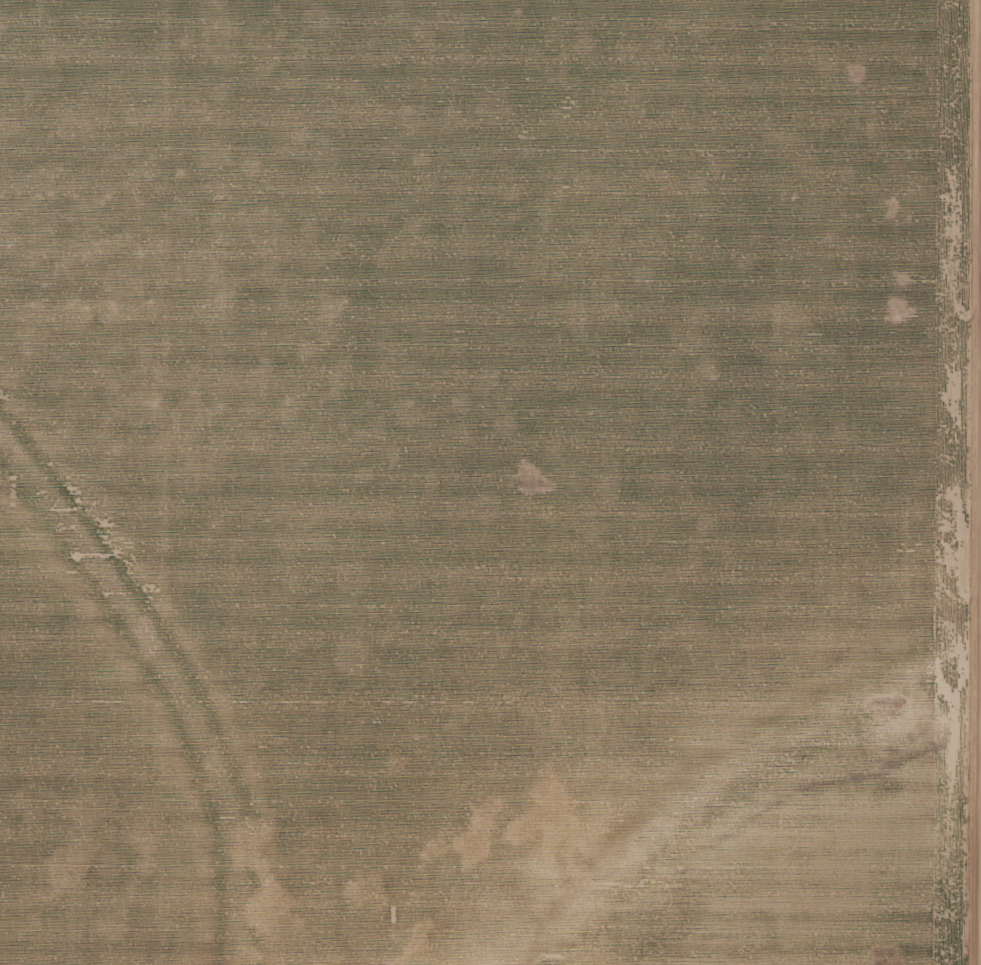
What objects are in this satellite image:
road: (953, 446)

